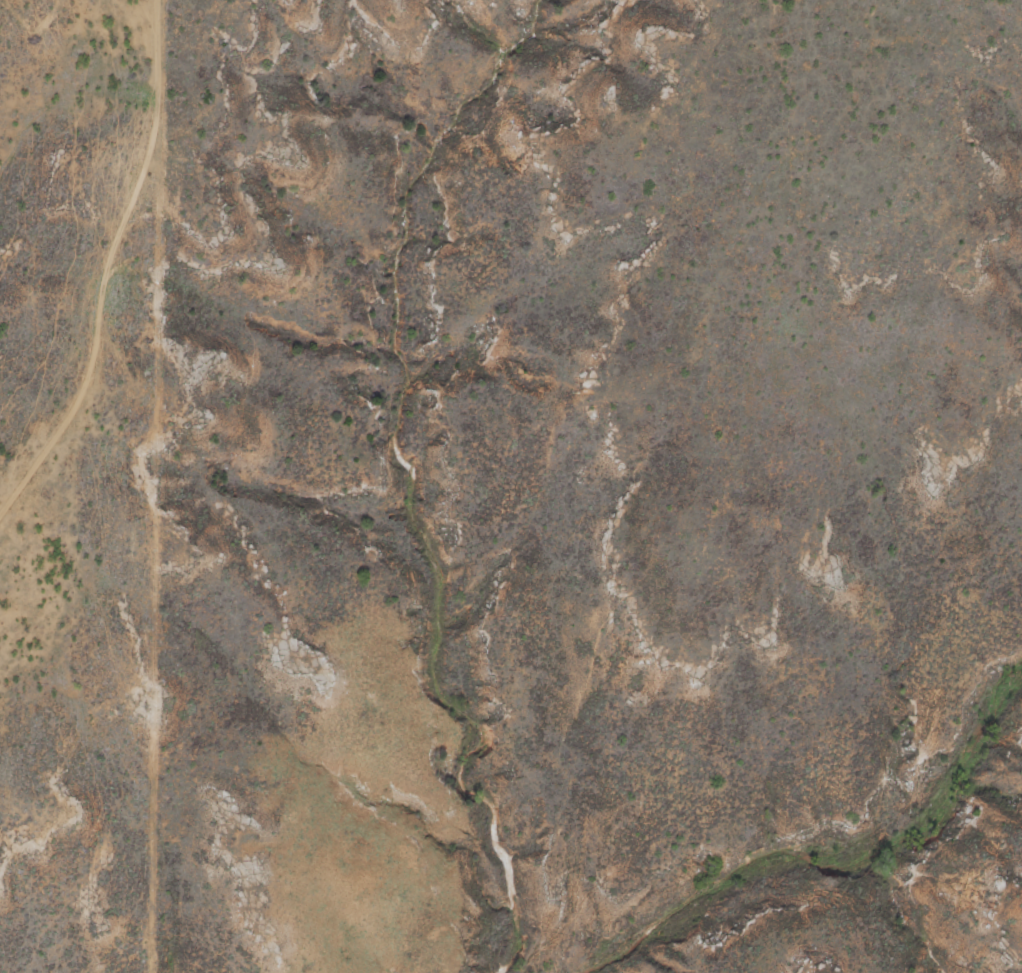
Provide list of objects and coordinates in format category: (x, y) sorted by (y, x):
road: (104, 270)

